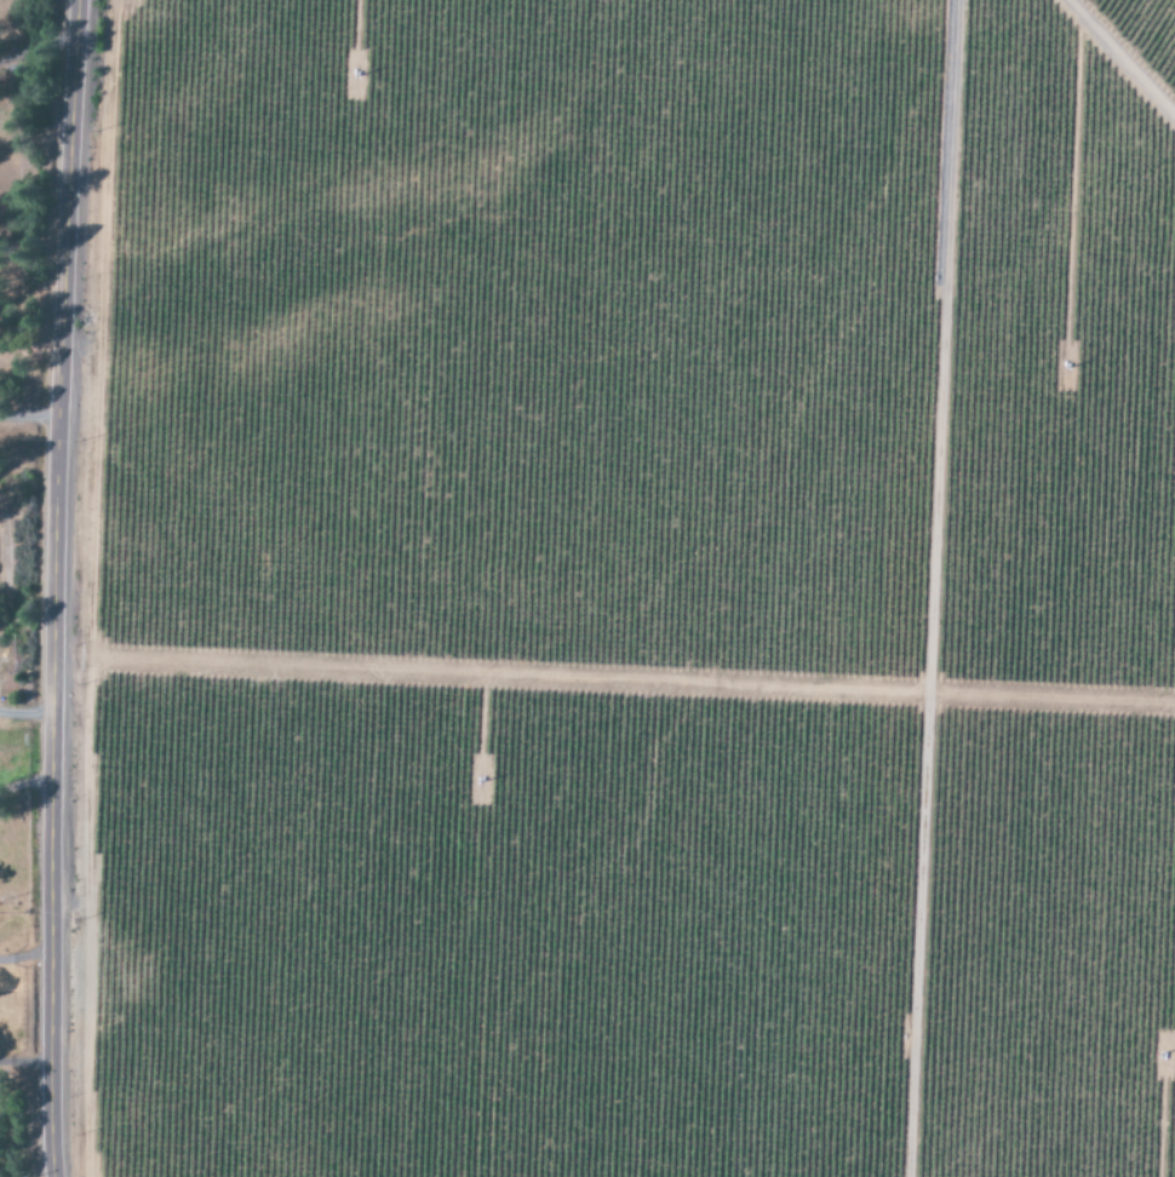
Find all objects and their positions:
road: (30, 419)
road: (61, 587)

